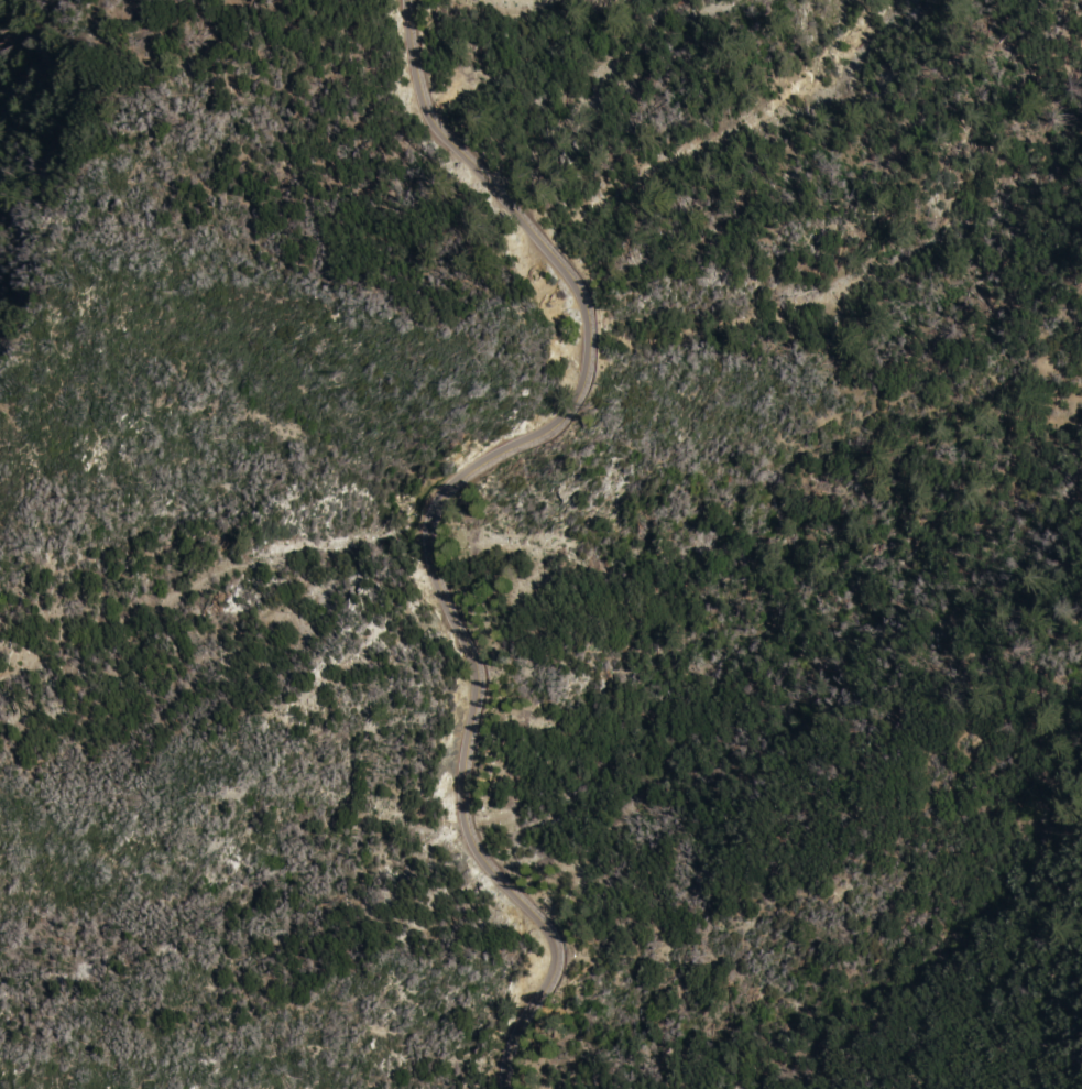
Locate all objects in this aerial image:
road: (427, 510)

